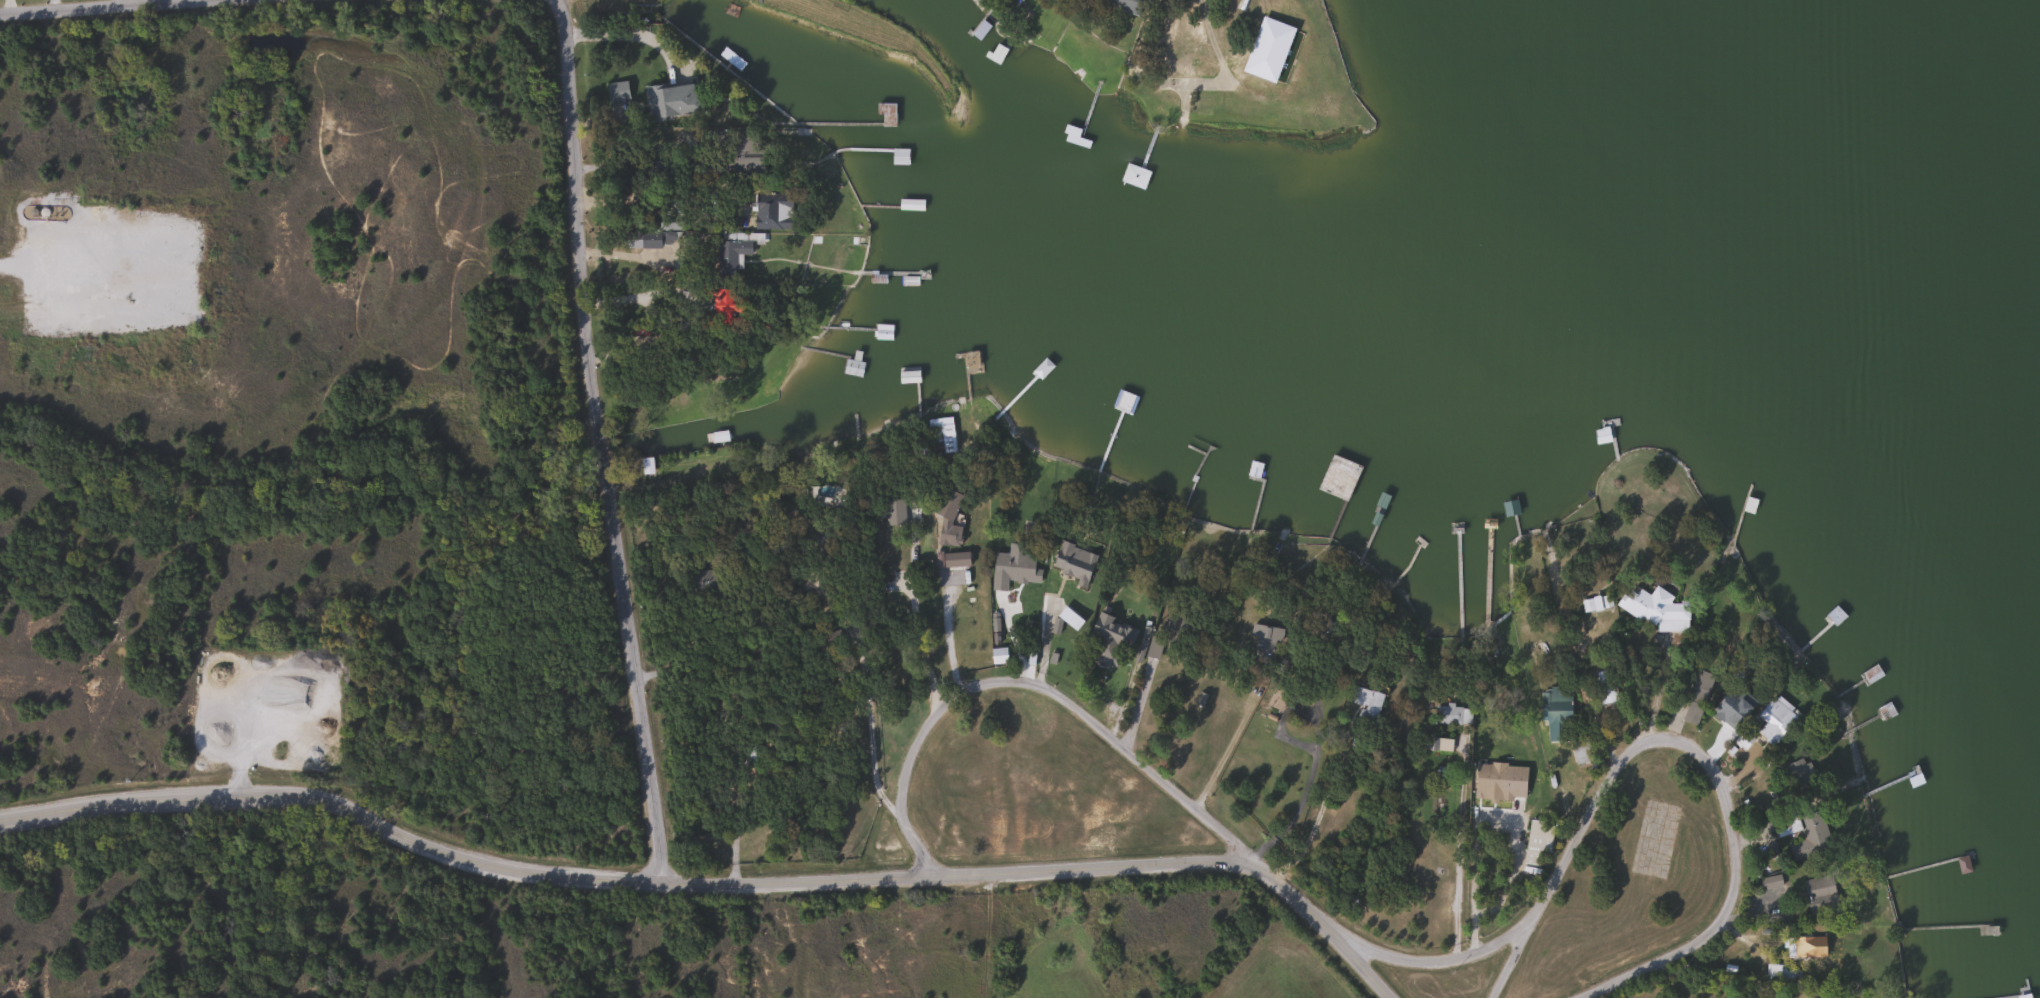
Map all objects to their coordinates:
road: (93, 6)
building: (1126, 6)
road: (627, 33)
building: (617, 91)
building: (671, 102)
building: (886, 115)
road: (647, 148)
building: (899, 156)
building: (742, 158)
building: (770, 218)
building: (649, 239)
road: (626, 254)
building: (729, 255)
road: (678, 295)
building: (882, 332)
building: (852, 365)
building: (940, 434)
road: (603, 438)
building: (645, 464)
building: (894, 511)
building: (946, 522)
building: (1086, 549)
building: (948, 560)
building: (1015, 569)
building: (1655, 608)
road: (946, 632)
road: (1049, 632)
road: (855, 635)
building: (1265, 636)
building: (1111, 639)
building: (1154, 646)
road: (1032, 683)
building: (1605, 686)
building: (1696, 697)
building: (1365, 703)
building: (1731, 705)
building: (1559, 707)
building: (1449, 713)
building: (1774, 719)
road: (1694, 746)
building: (1580, 750)
road: (1221, 751)
building: (1800, 773)
building: (1500, 781)
road: (1305, 787)
road: (1314, 817)
building: (1812, 833)
road: (1457, 848)
road: (714, 879)
road: (1505, 891)
building: (1820, 894)
building: (1811, 946)
road: (1446, 959)
building: (1779, 972)

